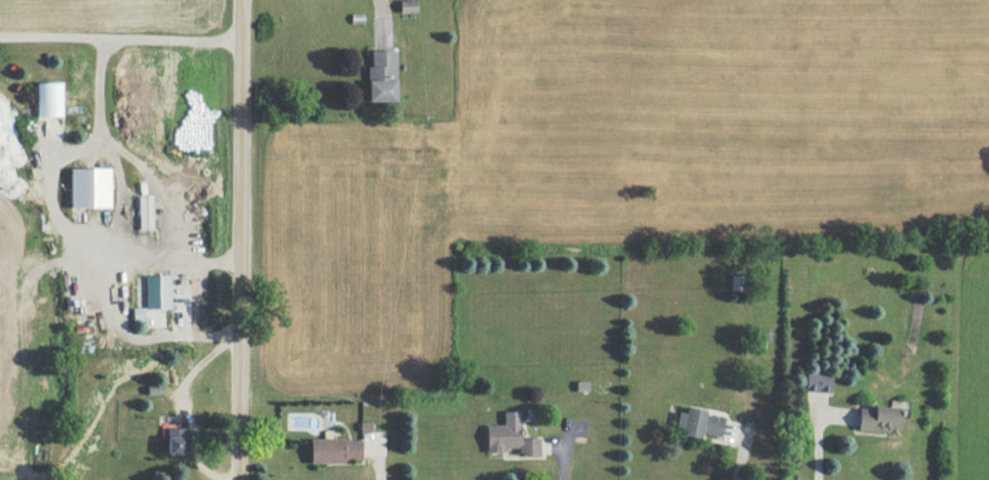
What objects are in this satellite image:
building: (407, 6)
road: (385, 15)
road: (119, 33)
building: (380, 76)
building: (48, 99)
building: (89, 187)
road: (153, 187)
road: (120, 194)
road: (50, 205)
road: (237, 240)
building: (157, 291)
road: (195, 298)
building: (137, 313)
road: (136, 337)
building: (816, 382)
road: (187, 408)
building: (698, 423)
building: (509, 436)
building: (175, 440)
road: (815, 446)
building: (335, 450)
road: (557, 450)
road: (371, 457)
road: (736, 461)

